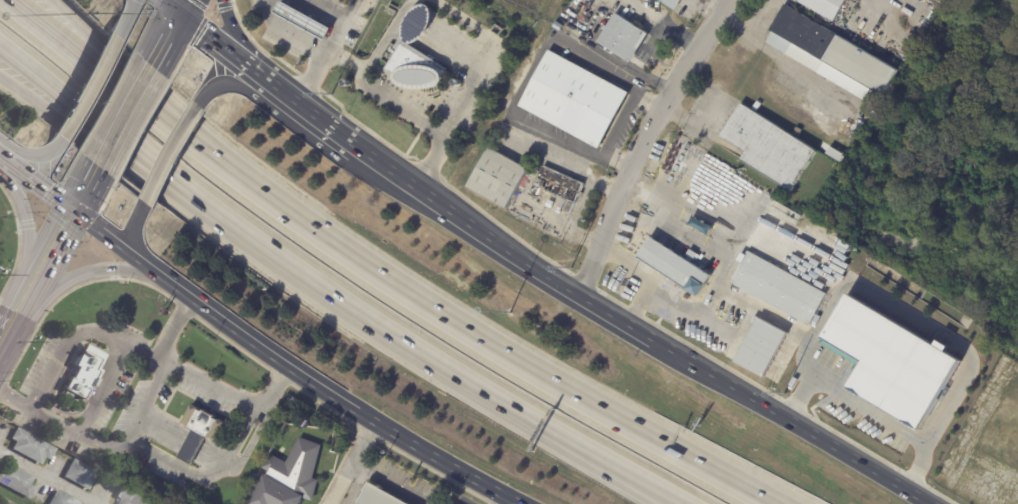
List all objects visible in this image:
road: (417, 0)
road: (726, 1)
road: (905, 2)
building: (672, 3)
road: (170, 7)
road: (182, 7)
building: (825, 7)
building: (603, 9)
road: (329, 11)
traffic signals: (179, 14)
road: (760, 18)
road: (123, 19)
road: (465, 21)
building: (307, 23)
gas station: (307, 23)
road: (661, 25)
road: (290, 32)
road: (83, 38)
road: (166, 38)
building: (625, 38)
road: (59, 39)
road: (238, 39)
road: (220, 45)
road: (331, 52)
building: (831, 54)
building: (419, 57)
road: (783, 61)
road: (349, 64)
road: (528, 71)
road: (224, 82)
road: (368, 83)
road: (87, 88)
road: (473, 91)
road: (62, 94)
building: (576, 99)
road: (126, 110)
road: (307, 112)
road: (621, 123)
road: (642, 141)
building: (768, 147)
road: (32, 154)
building: (835, 155)
road: (115, 158)
road: (174, 158)
road: (432, 165)
park: (943, 169)
railway: (94, 176)
building: (498, 178)
building: (563, 184)
road: (34, 185)
road: (84, 185)
road: (182, 185)
building: (553, 203)
traffic signals: (69, 212)
road: (42, 217)
road: (65, 225)
road: (27, 226)
road: (24, 228)
road: (19, 240)
road: (139, 242)
road: (110, 243)
road: (502, 246)
road: (97, 250)
road: (46, 253)
road: (623, 266)
building: (675, 267)
road: (113, 269)
road: (724, 270)
road: (86, 274)
road: (145, 284)
building: (779, 289)
road: (431, 308)
road: (184, 309)
road: (16, 311)
road: (898, 311)
road: (4, 335)
road: (62, 348)
building: (761, 348)
building: (790, 356)
road: (249, 357)
building: (892, 364)
building: (83, 374)
road: (452, 374)
road: (810, 378)
road: (281, 379)
road: (216, 388)
road: (328, 396)
road: (235, 399)
road: (91, 406)
building: (260, 420)
road: (789, 421)
road: (356, 429)
building: (200, 431)
road: (368, 435)
building: (223, 439)
building: (32, 445)
road: (101, 445)
road: (160, 459)
road: (356, 465)
road: (433, 471)
building: (82, 473)
building: (290, 476)
road: (48, 477)
building: (17, 479)
building: (381, 495)
building: (134, 497)
building: (64, 498)
road: (496, 500)
railway: (1, 503)
road: (490, 503)

